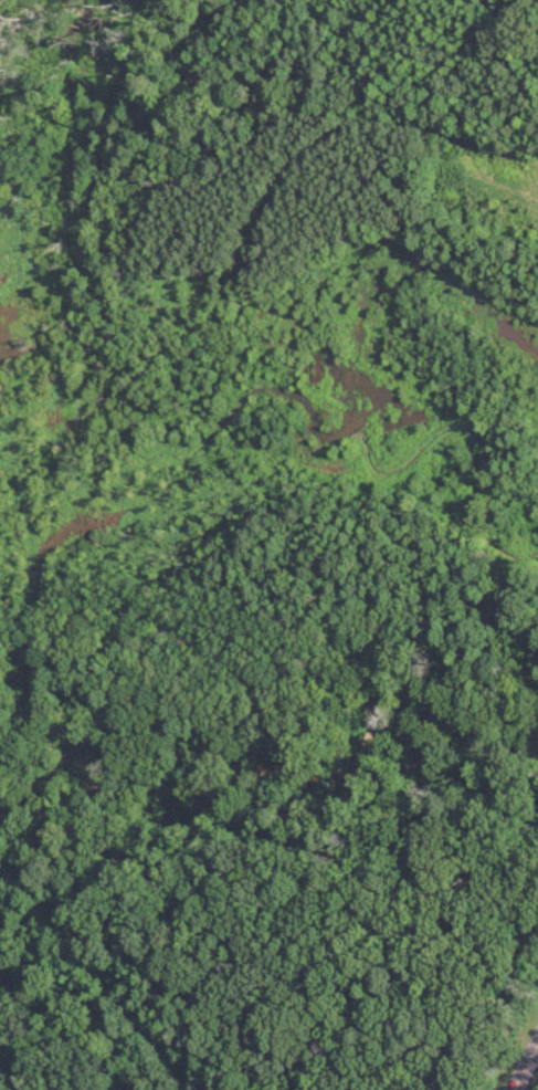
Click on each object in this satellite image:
river: (263, 769)
road: (253, 822)
road: (471, 825)
road: (103, 862)
road: (268, 877)
road: (220, 929)
park: (281, 932)
road: (526, 1066)
road: (426, 1067)
road: (446, 1075)
road: (23, 1080)

